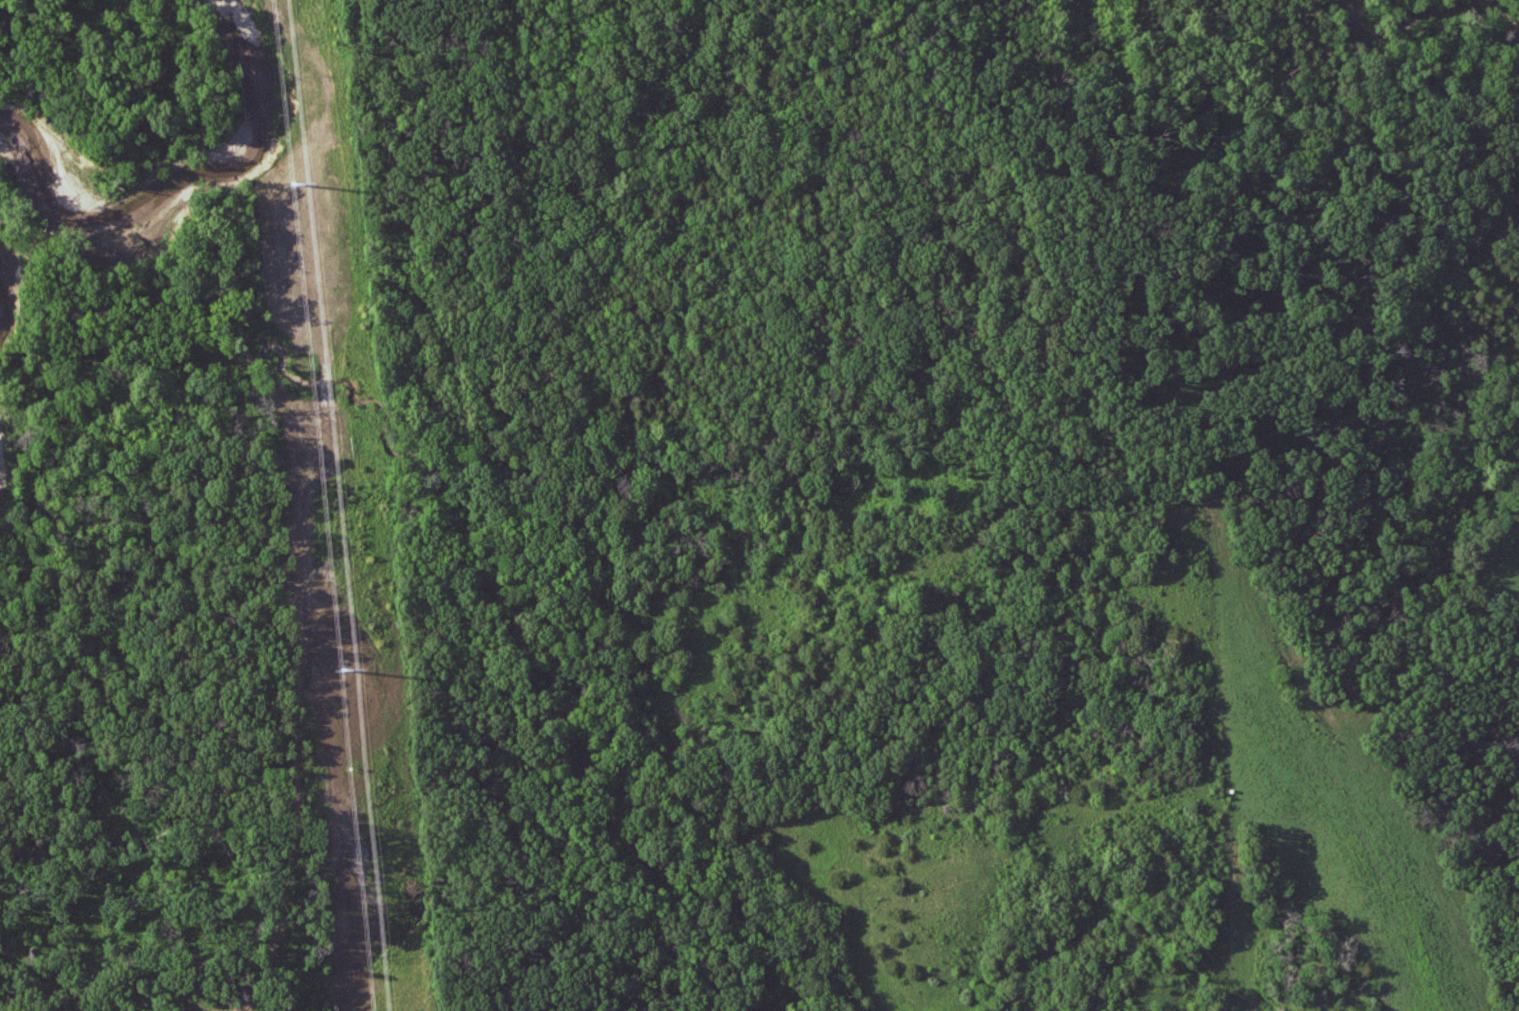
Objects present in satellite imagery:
power tower: (292, 184)
power tower: (339, 672)

